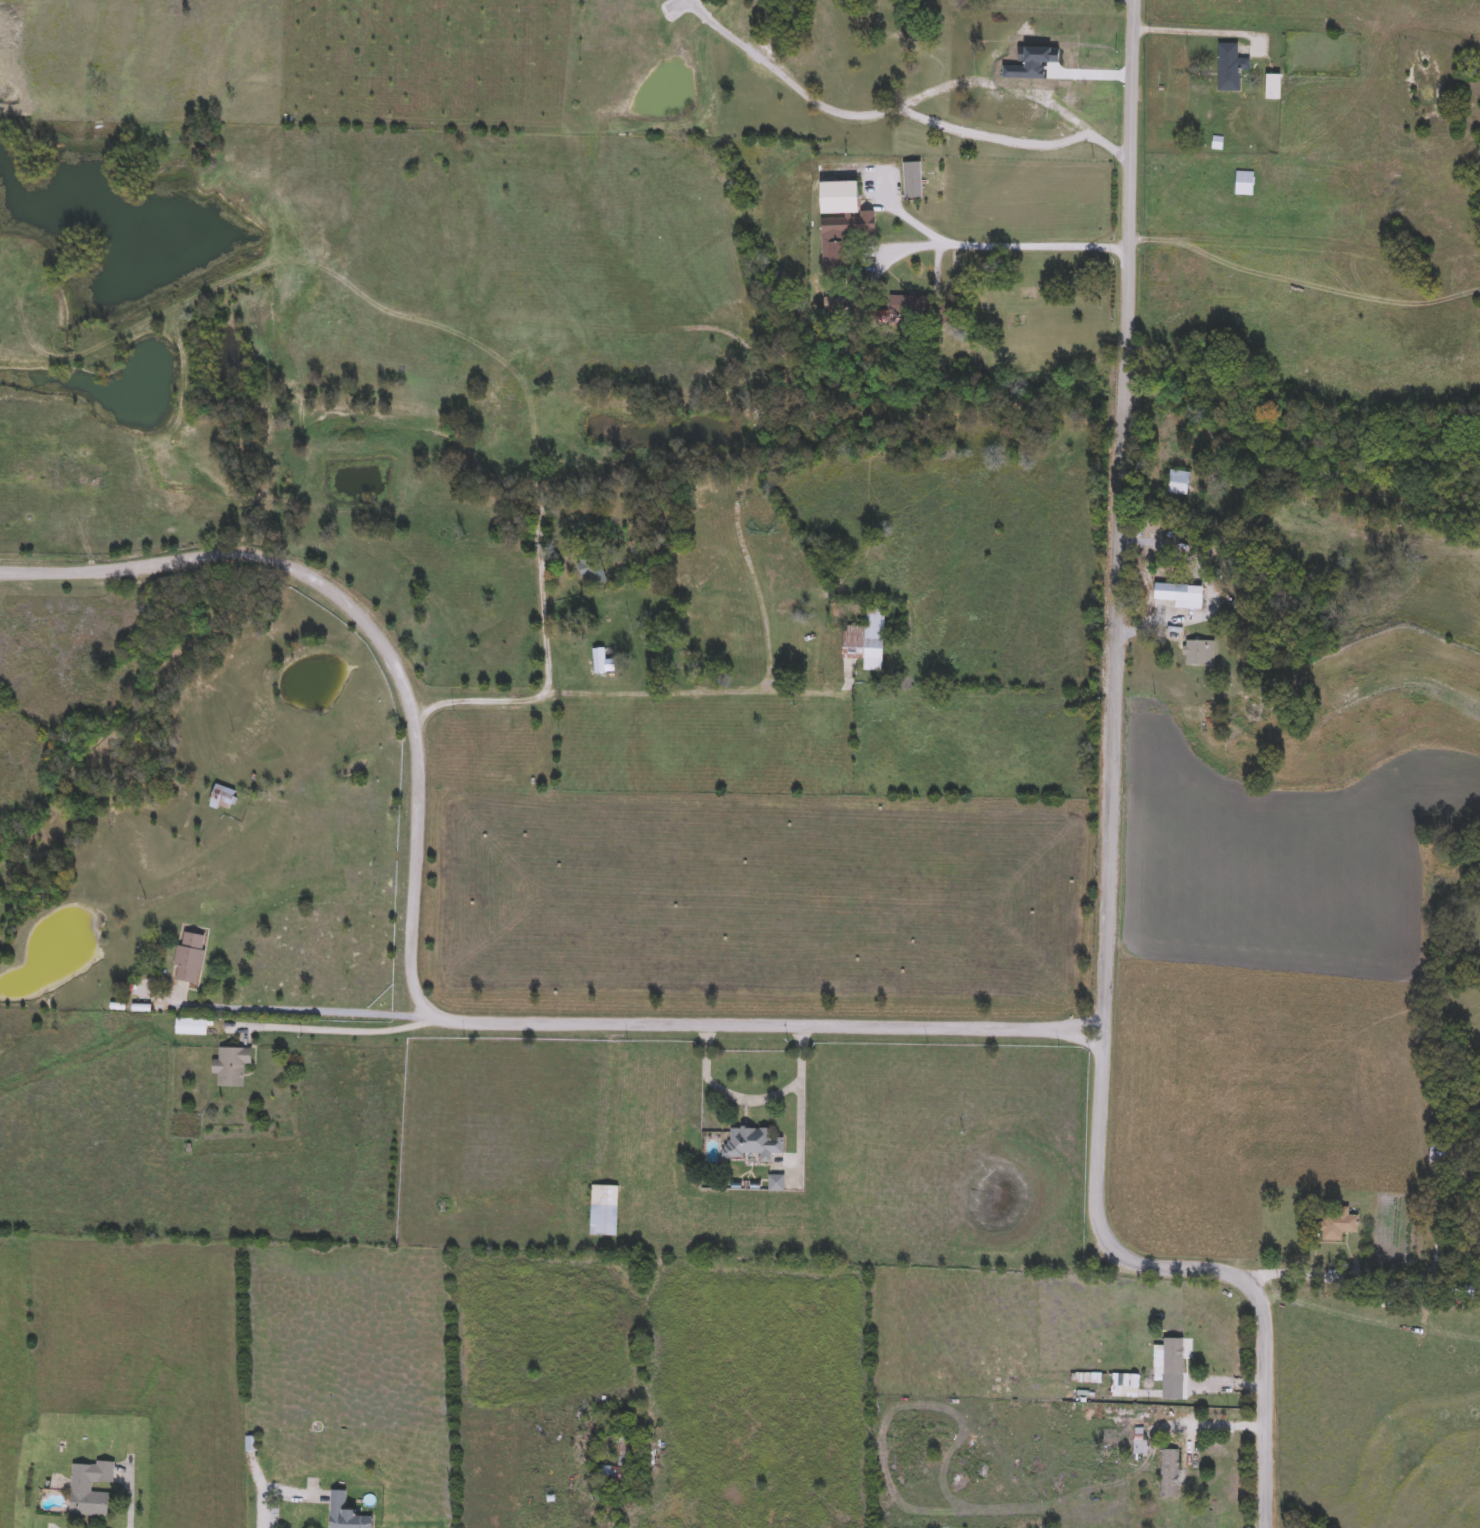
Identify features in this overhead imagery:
building: (763, 14)
road: (1203, 34)
building: (1229, 68)
building: (1276, 91)
road: (902, 103)
road: (992, 136)
building: (1216, 144)
building: (1244, 184)
building: (841, 221)
road: (988, 245)
building: (908, 307)
building: (1178, 482)
building: (592, 571)
road: (1209, 590)
building: (1180, 596)
building: (866, 642)
building: (1199, 654)
building: (599, 662)
building: (179, 664)
road: (704, 690)
road: (538, 694)
building: (222, 798)
road: (1110, 821)
building: (189, 958)
road: (410, 958)
road: (306, 1012)
building: (191, 1029)
road: (336, 1031)
building: (231, 1067)
road: (749, 1101)
building: (751, 1144)
building: (1437, 1157)
building: (776, 1184)
building: (603, 1211)
building: (1337, 1225)
road: (1353, 1282)
building: (1173, 1357)
building: (616, 1462)
building: (1169, 1474)
building: (89, 1490)
building: (337, 1503)
road: (261, 1515)

